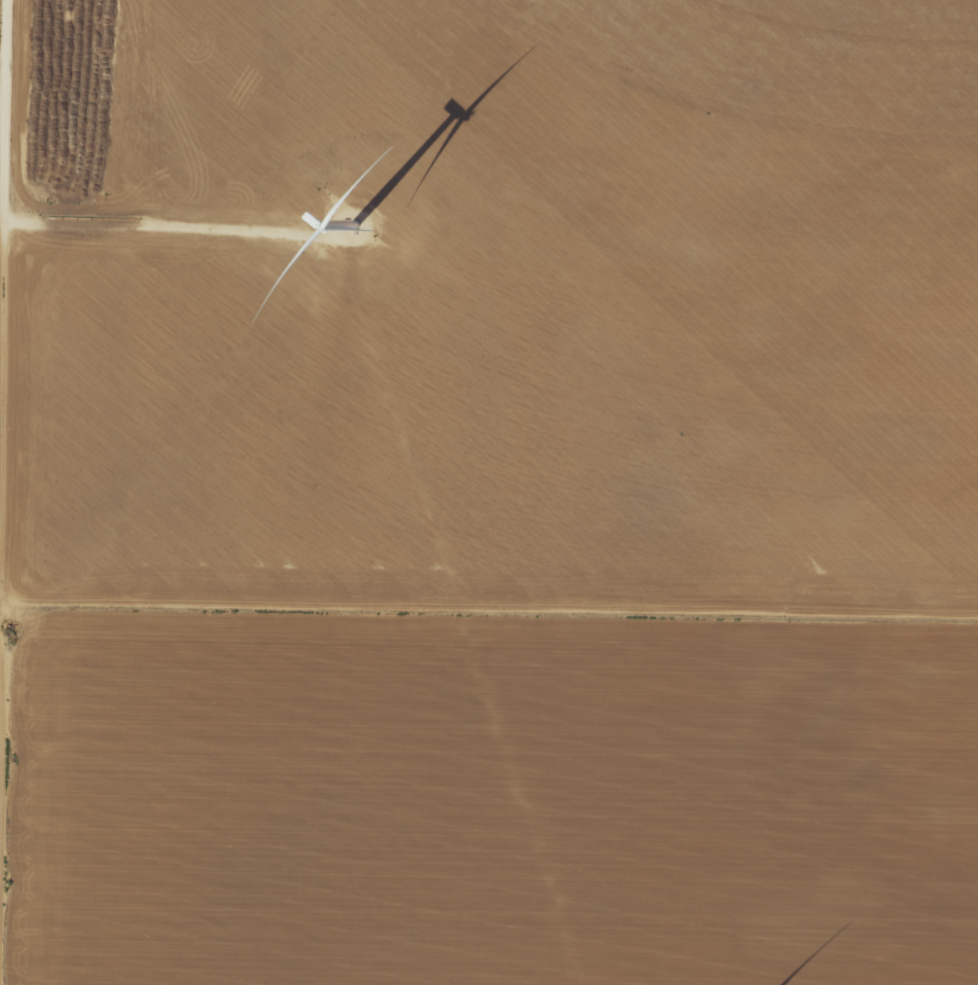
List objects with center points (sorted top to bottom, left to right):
wind turbine: (347, 227)
road: (7, 404)
road: (489, 606)

